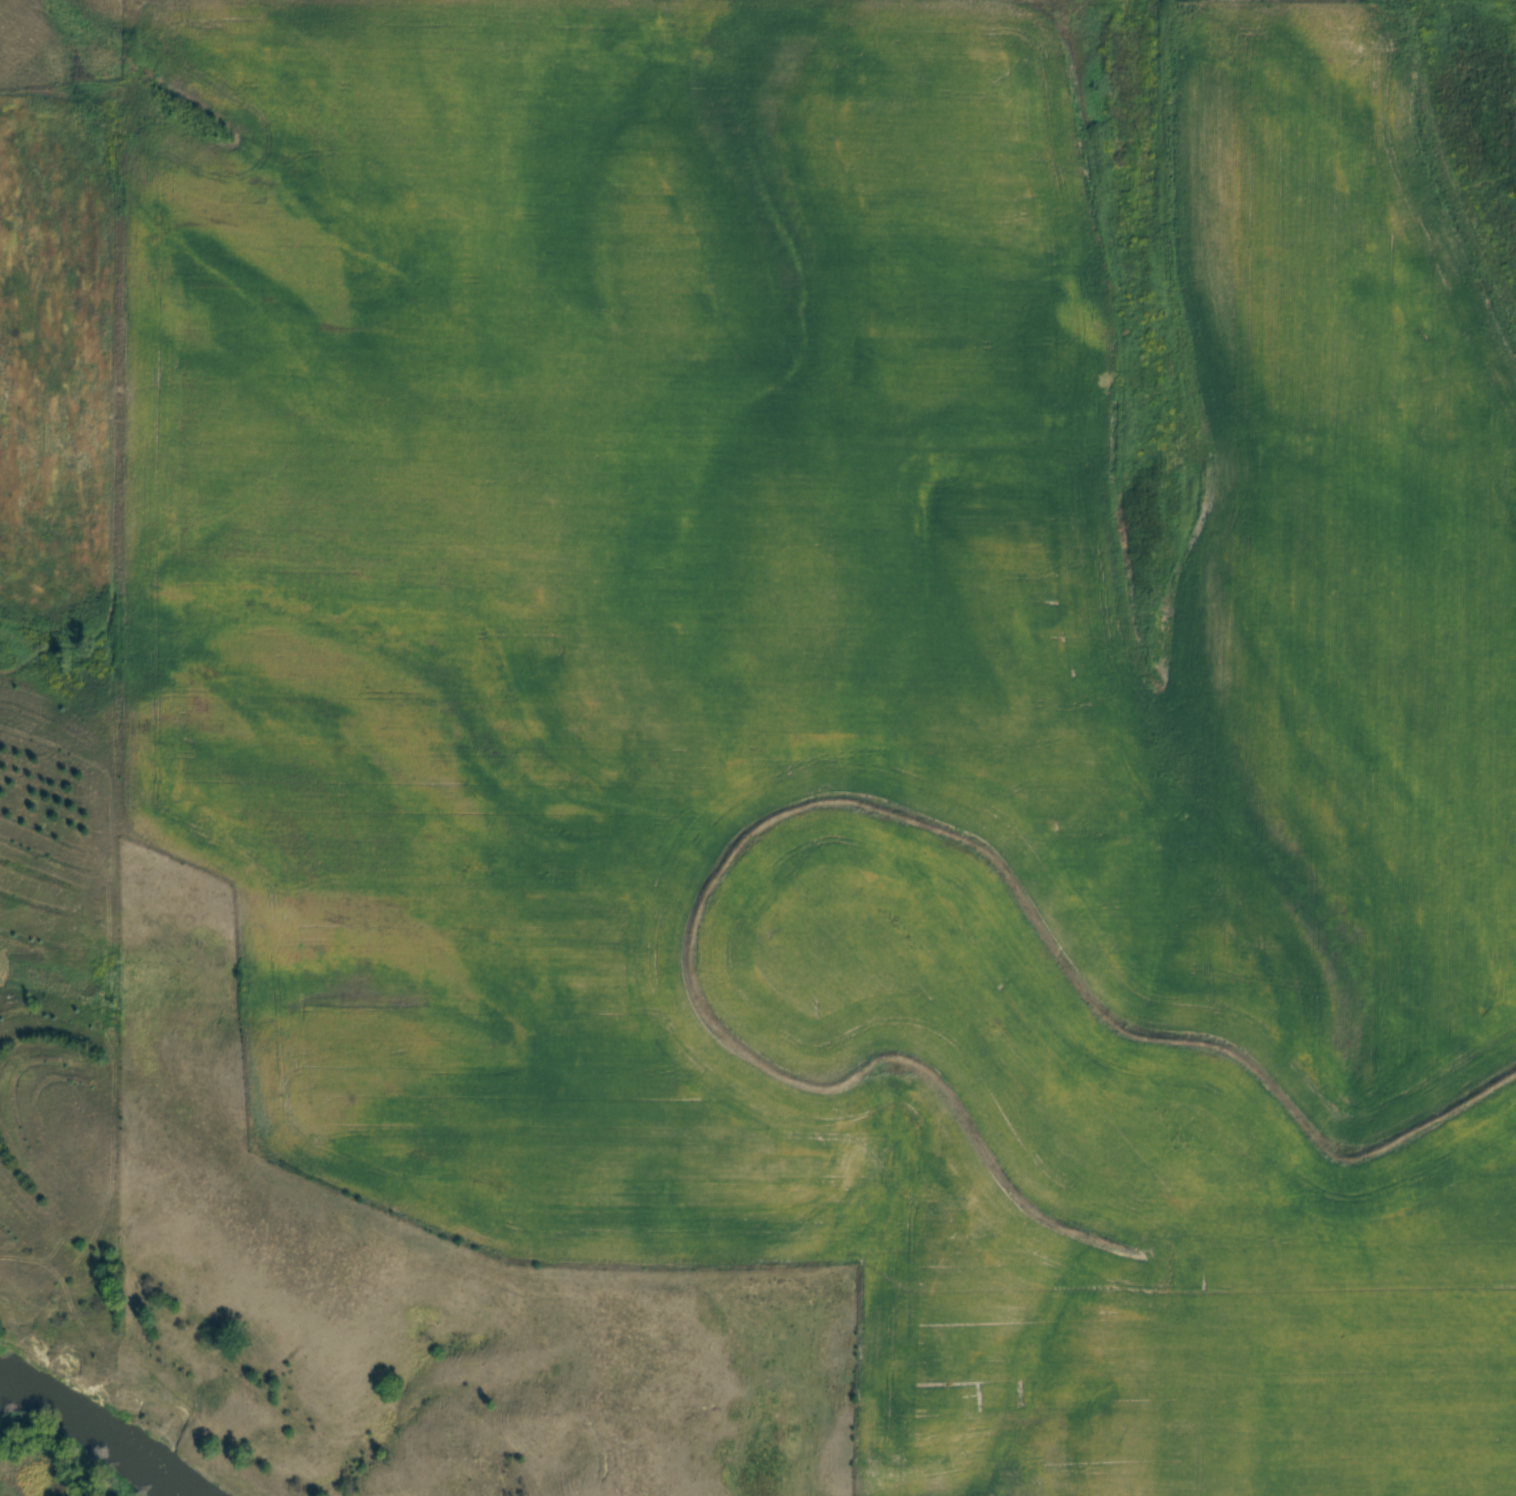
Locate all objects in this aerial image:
river: (98, 1422)

